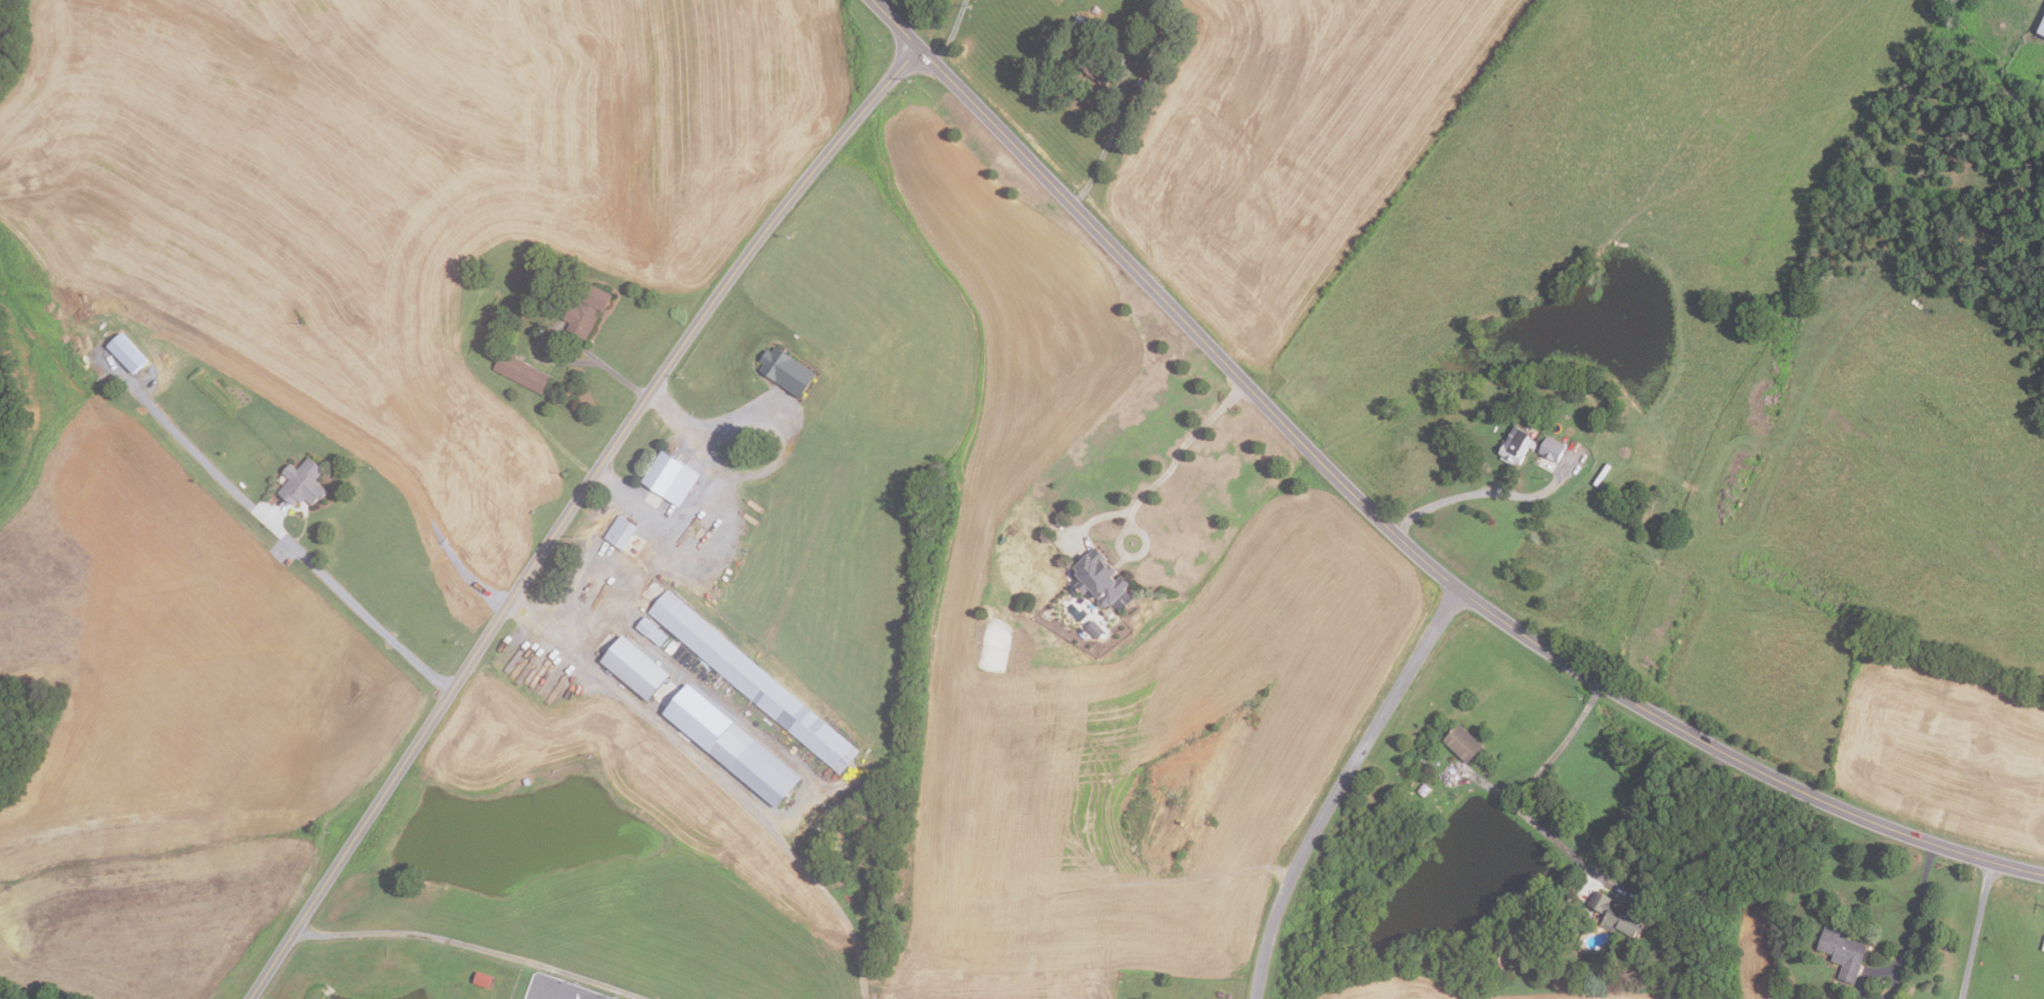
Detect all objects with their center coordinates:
building: (1095, 10)
building: (1078, 18)
building: (2041, 29)
road: (951, 33)
building: (1095, 68)
building: (1148, 82)
road: (1103, 152)
building: (585, 309)
building: (125, 352)
road: (608, 366)
building: (784, 370)
building: (519, 372)
road: (671, 412)
road: (787, 435)
building: (1515, 445)
building: (1551, 448)
road: (1172, 463)
building: (669, 477)
building: (301, 482)
road: (1440, 498)
road: (568, 512)
road: (675, 512)
road: (1391, 530)
building: (620, 532)
building: (1100, 579)
road: (626, 587)
road: (366, 615)
building: (1095, 629)
building: (650, 631)
building: (634, 668)
building: (751, 680)
building: (1461, 743)
building: (729, 745)
road: (716, 779)
road: (1340, 784)
road: (1526, 788)
building: (1422, 789)
road: (1212, 871)
road: (1914, 905)
building: (1615, 914)
road: (1974, 930)
road: (473, 944)
building: (1842, 952)
building: (1495, 963)
road: (1867, 974)
building: (2015, 977)
building: (481, 979)
road: (1891, 984)
crop: (1429, 990)

